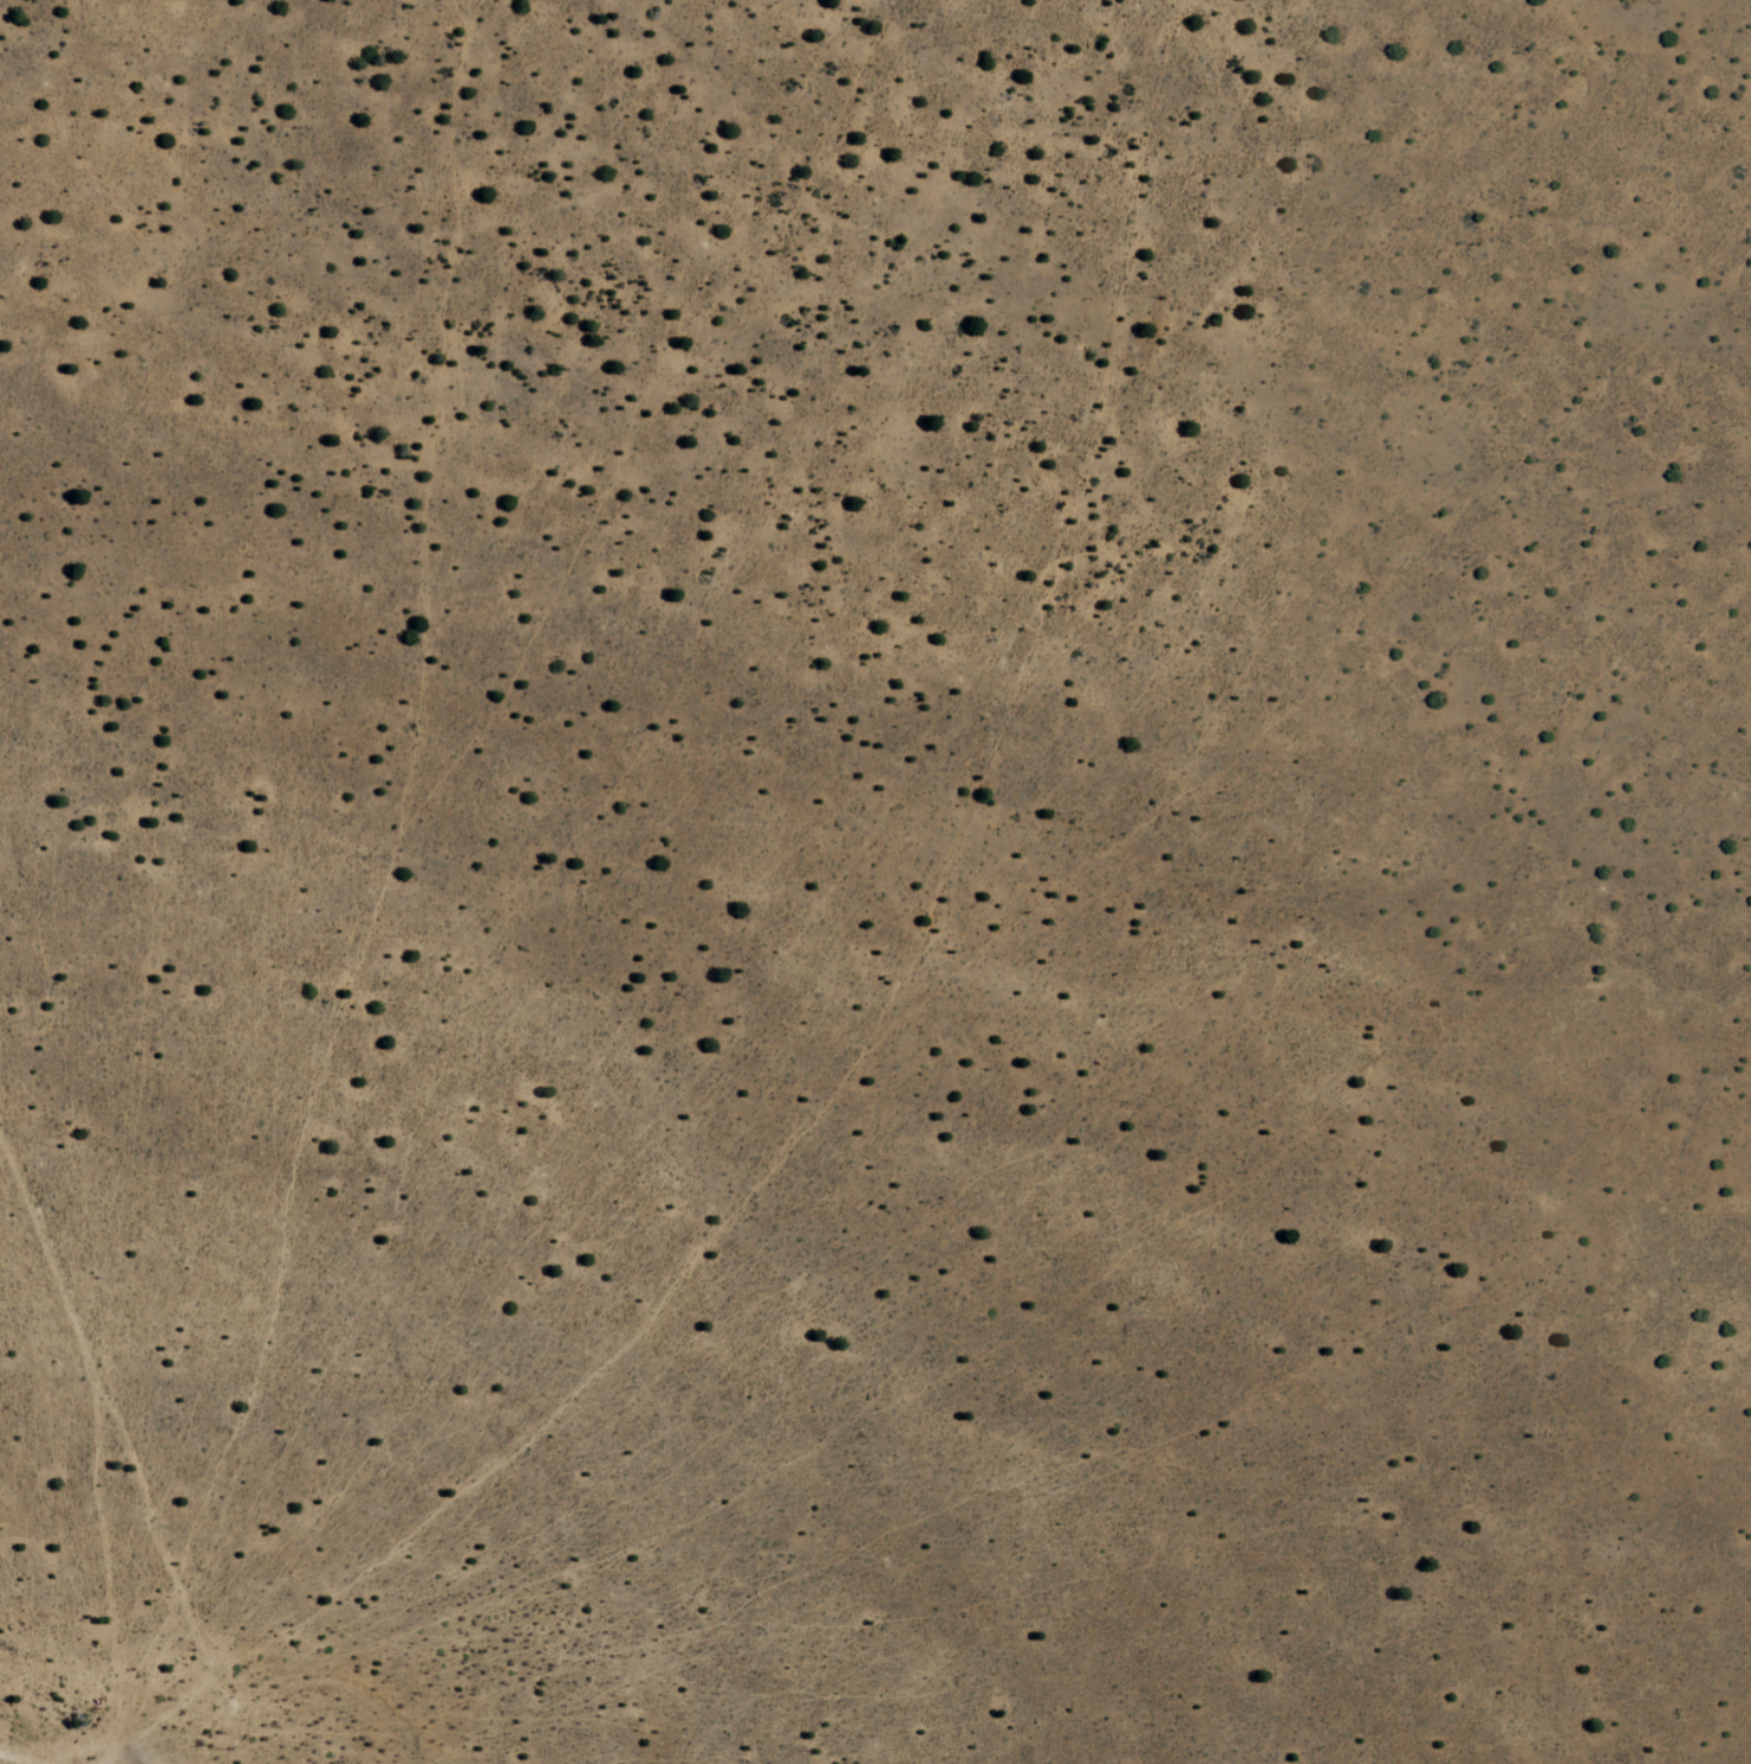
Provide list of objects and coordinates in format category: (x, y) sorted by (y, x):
road: (938, 886)
road: (260, 1683)

